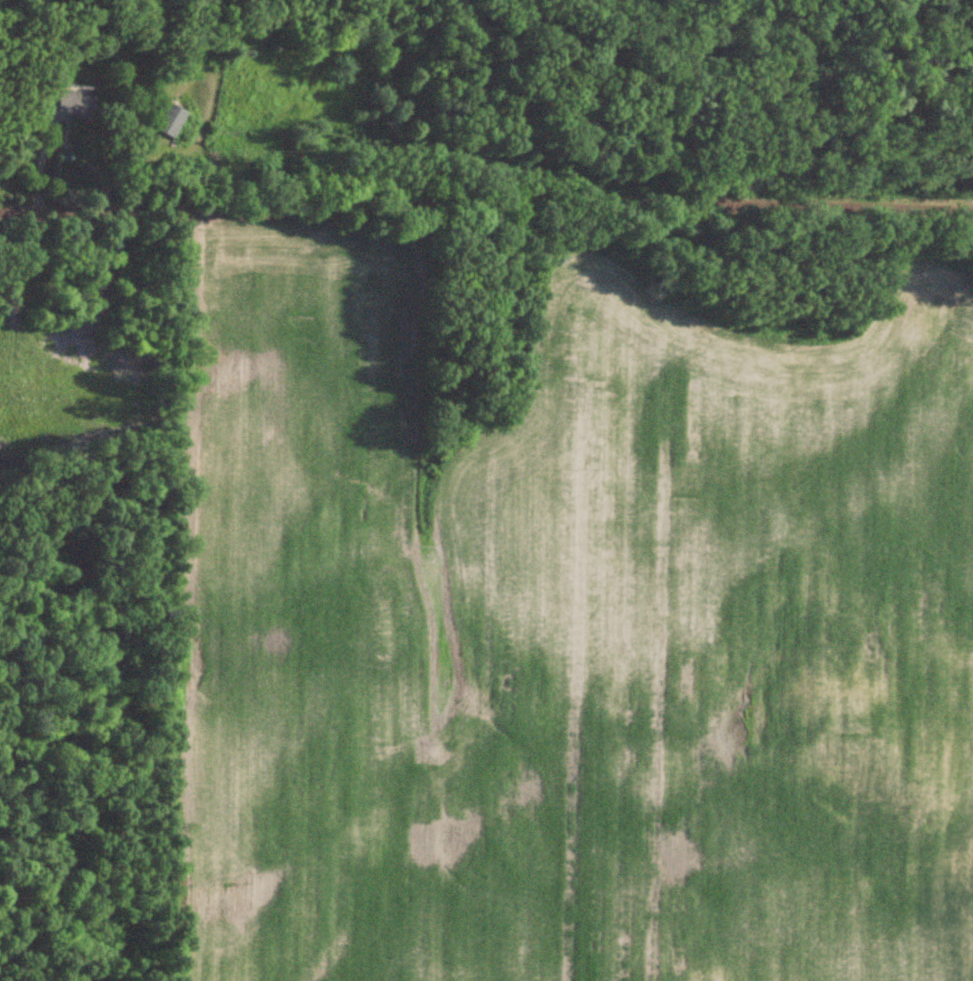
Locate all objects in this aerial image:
building: (69, 107)
building: (171, 120)
road: (486, 208)

